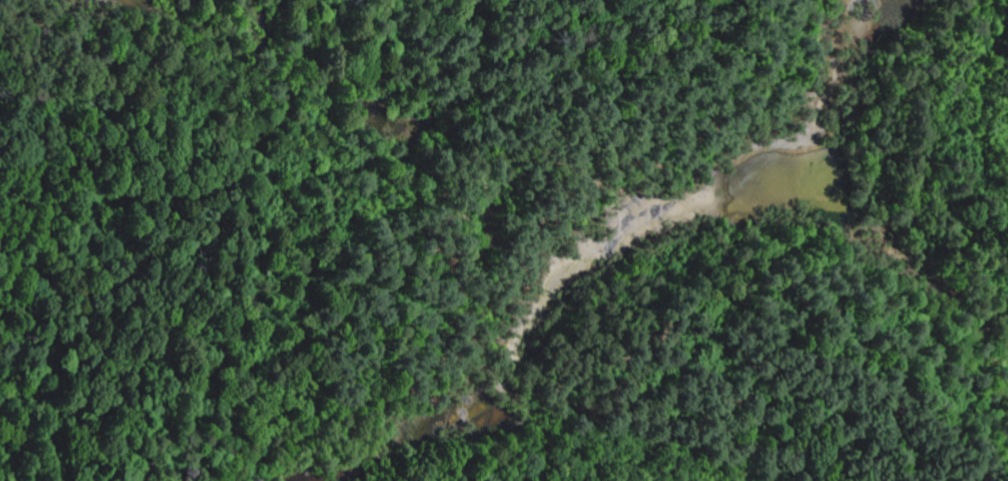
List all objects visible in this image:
road: (627, 468)

